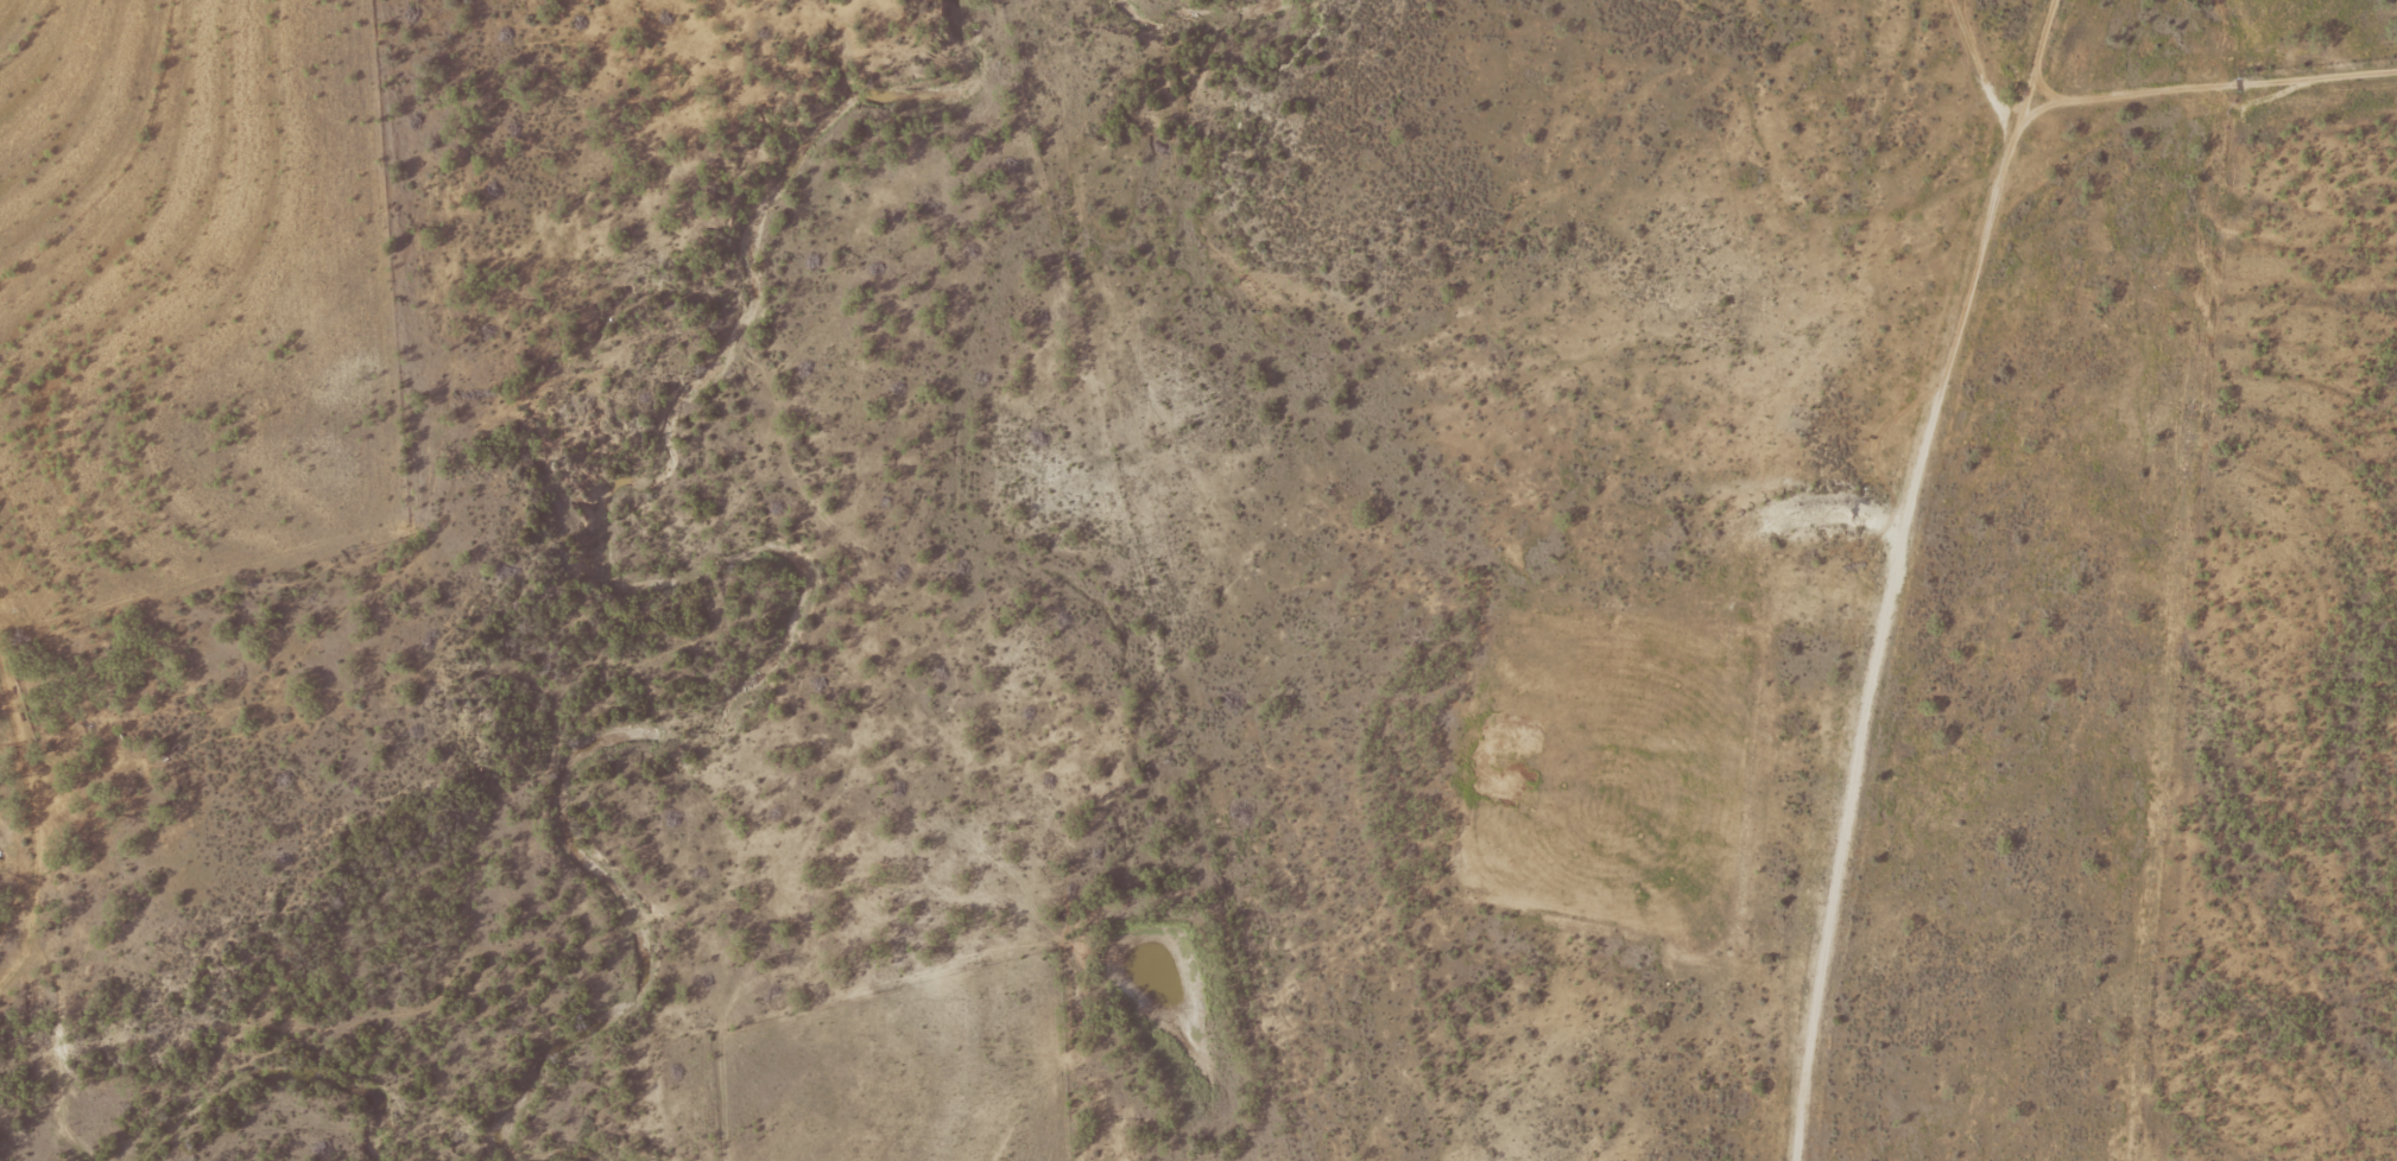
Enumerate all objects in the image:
road: (1870, 570)

